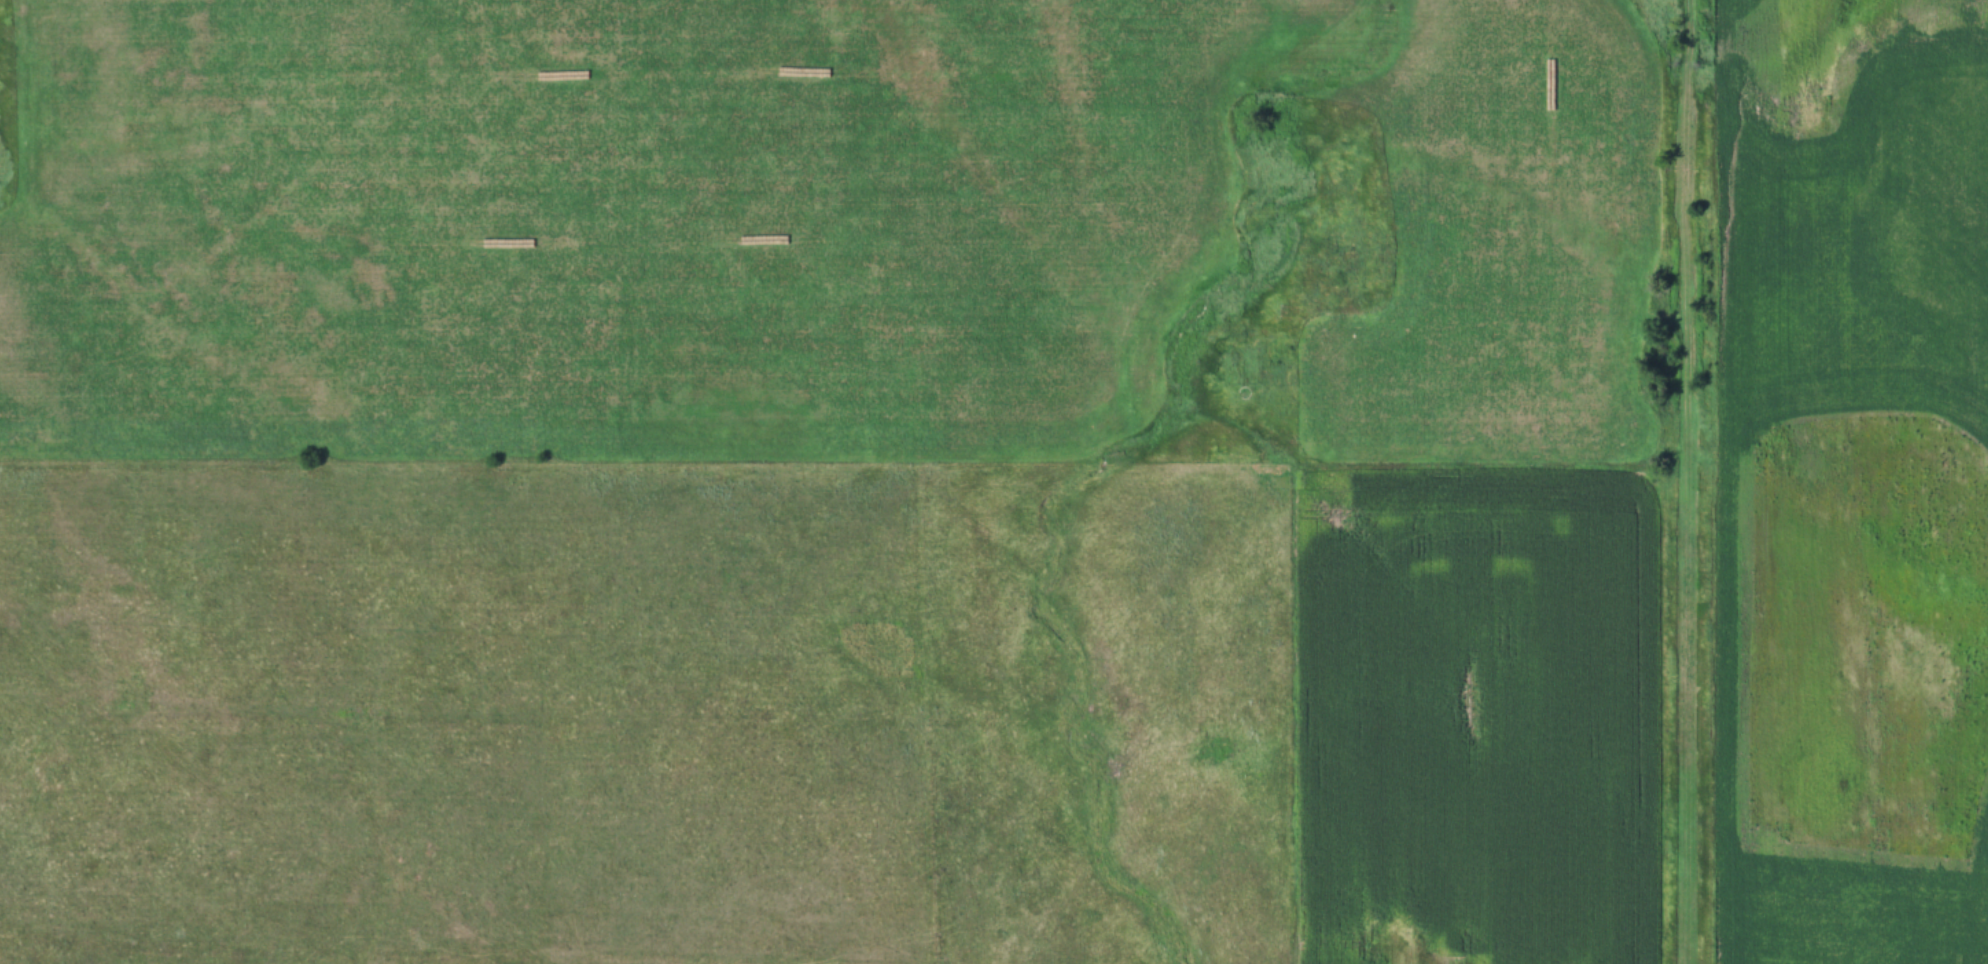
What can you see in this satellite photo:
road: (1686, 482)

